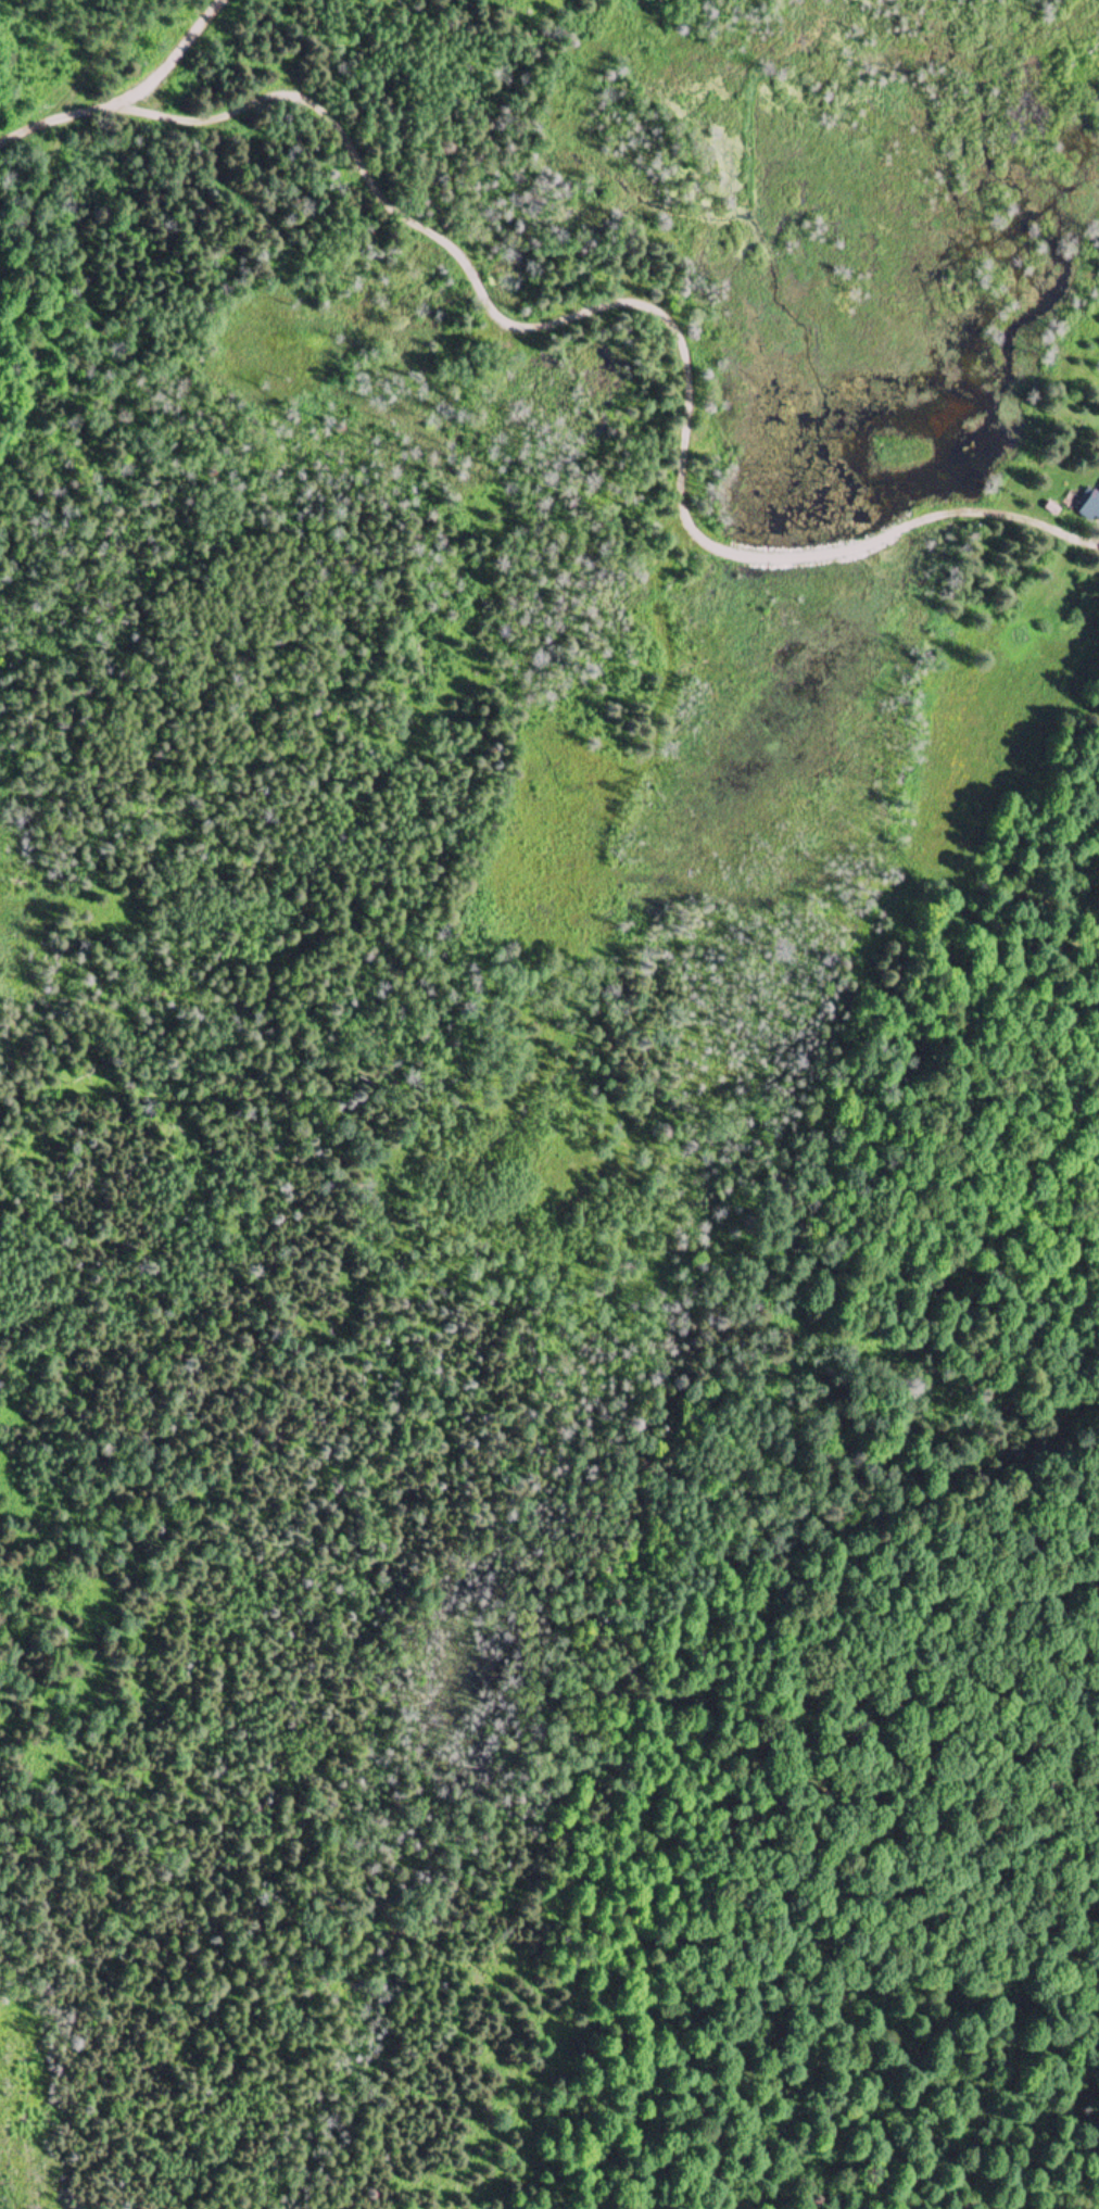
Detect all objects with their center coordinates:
building: (1091, 508)

